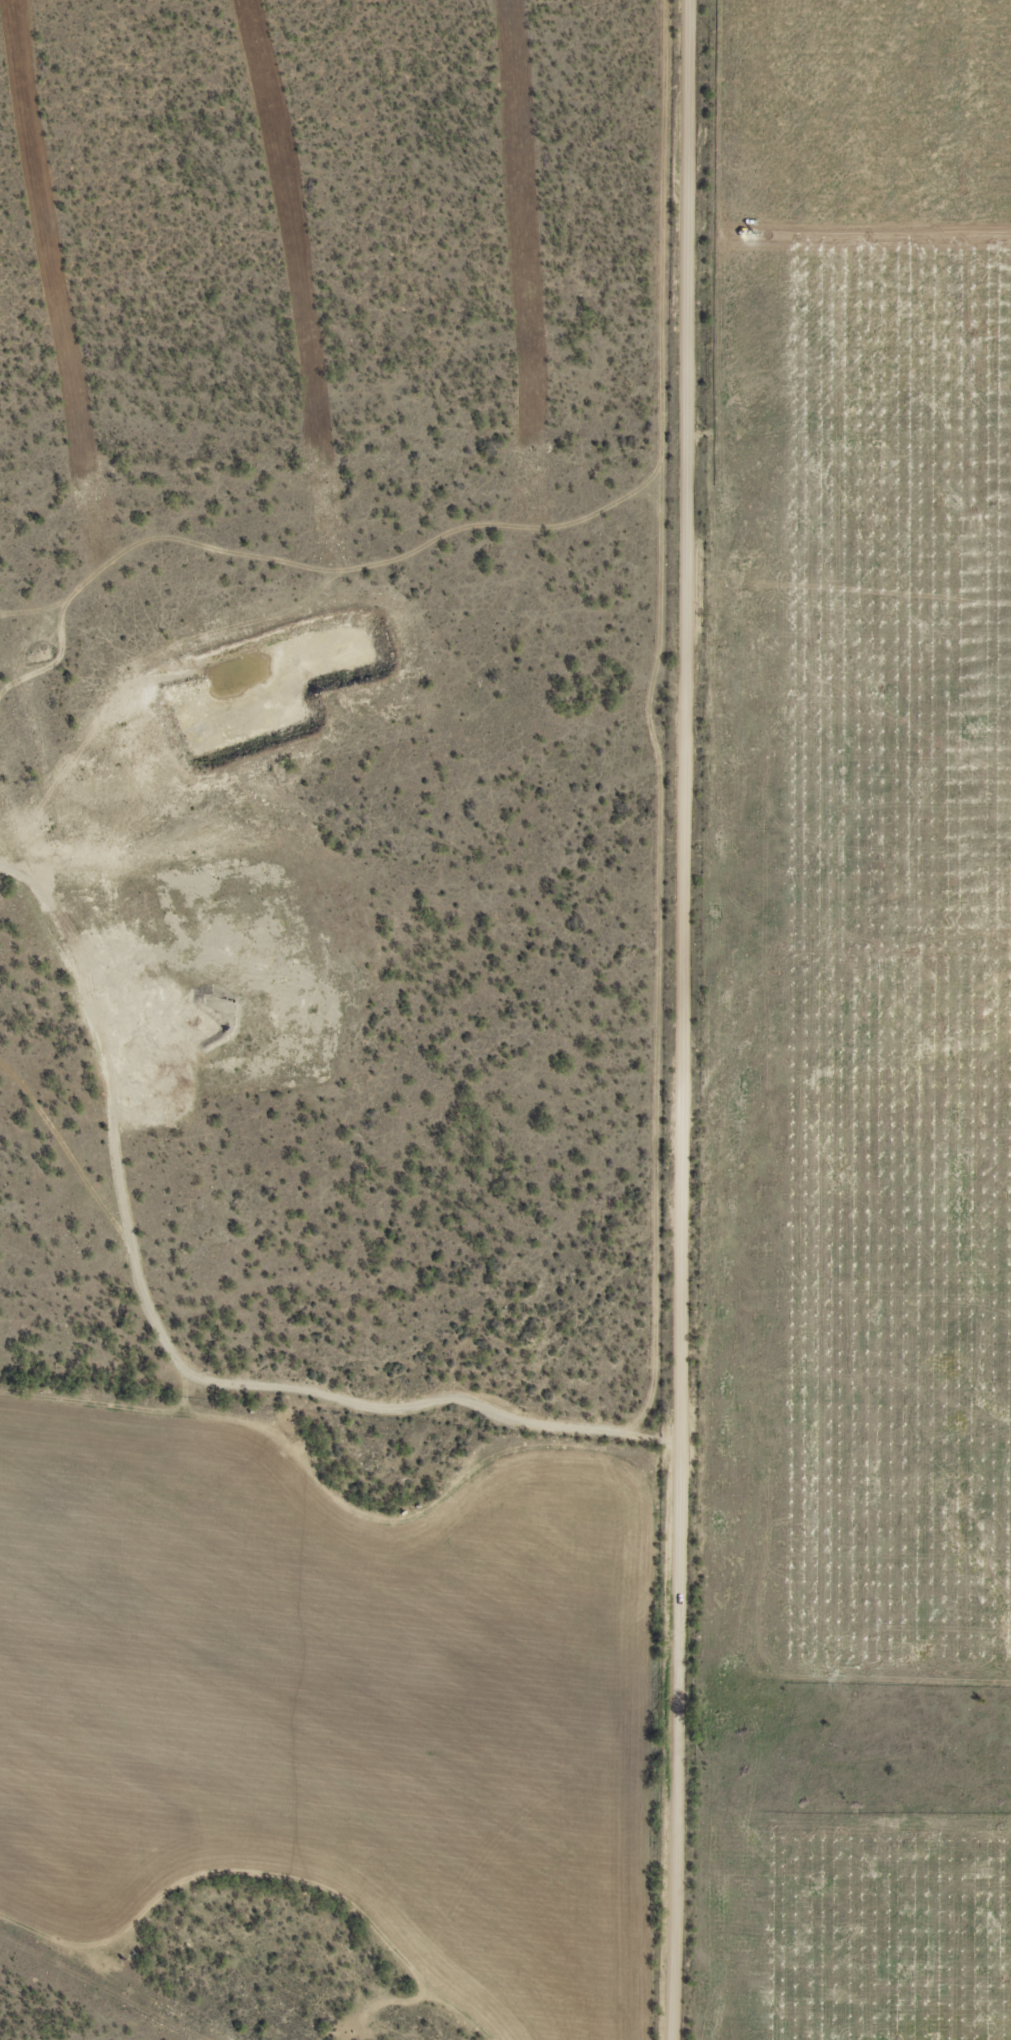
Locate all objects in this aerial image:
road: (678, 1020)

